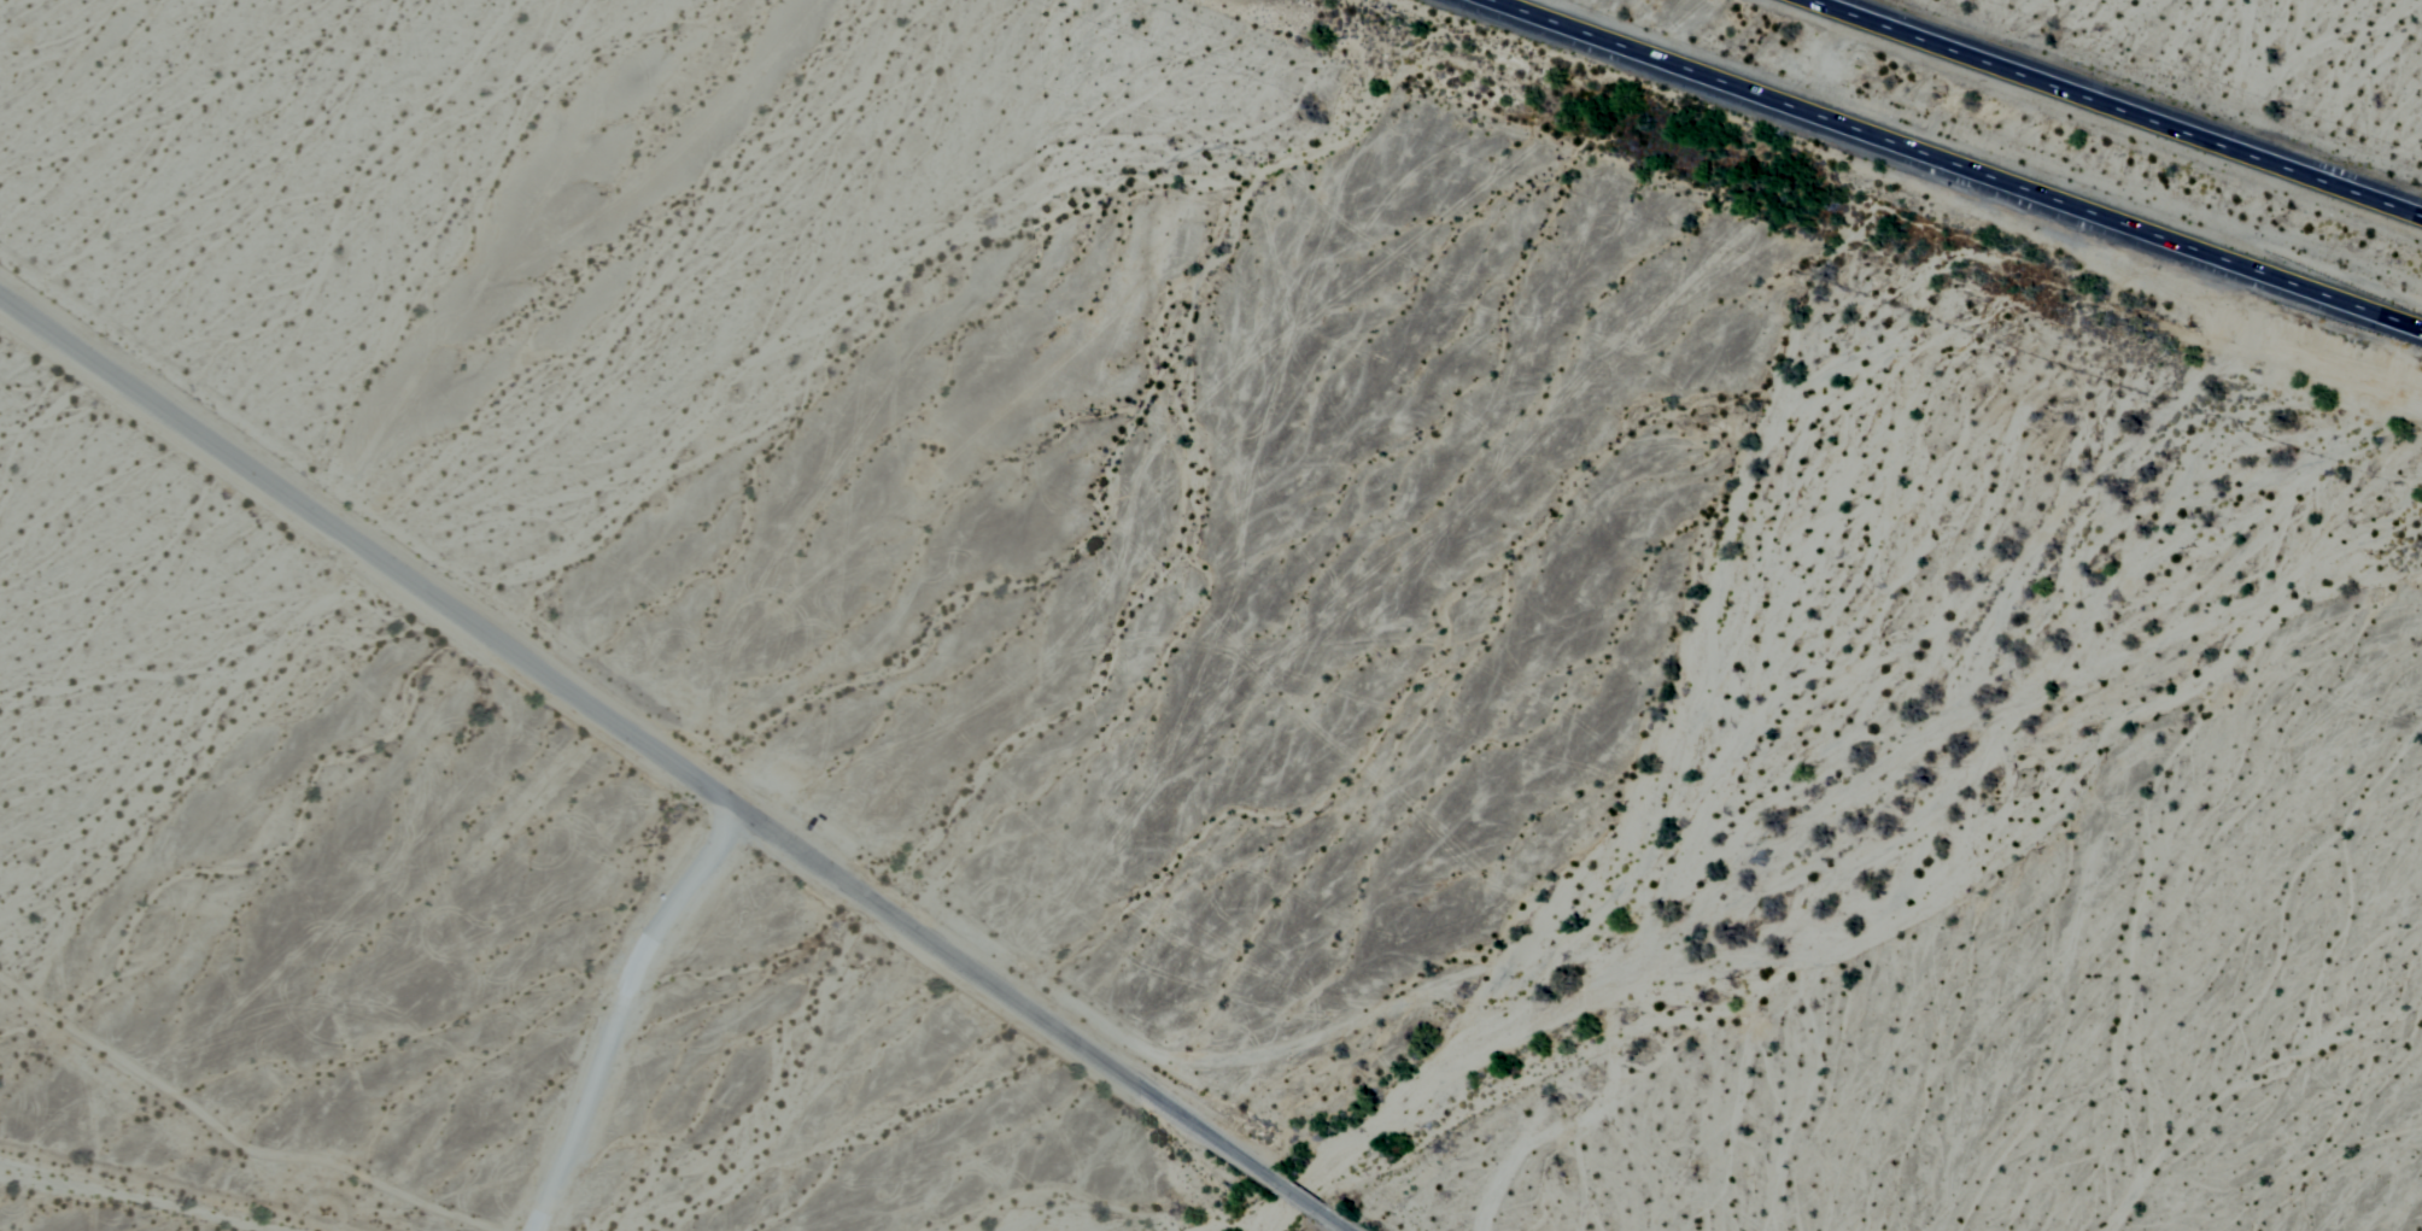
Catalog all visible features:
road: (2124, 105)
road: (1971, 159)
road: (633, 734)
road: (610, 1009)
road: (1293, 1194)
road: (1332, 1221)

